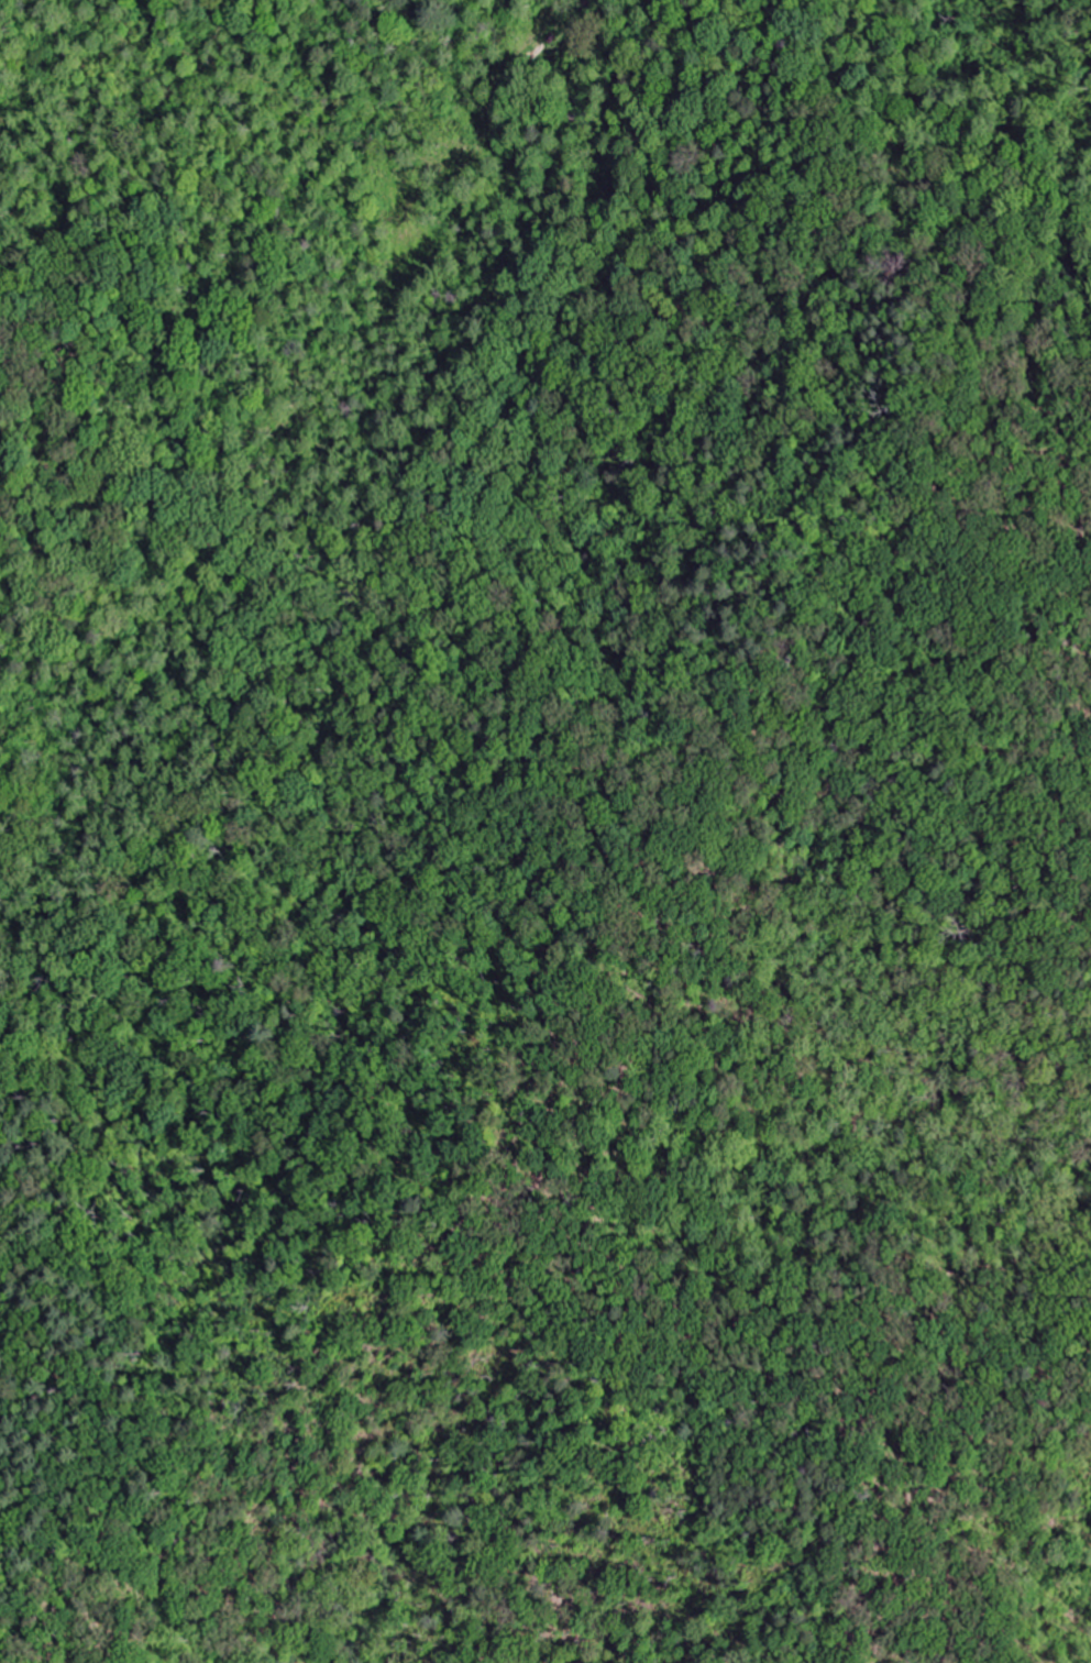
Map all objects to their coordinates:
road: (649, 52)

